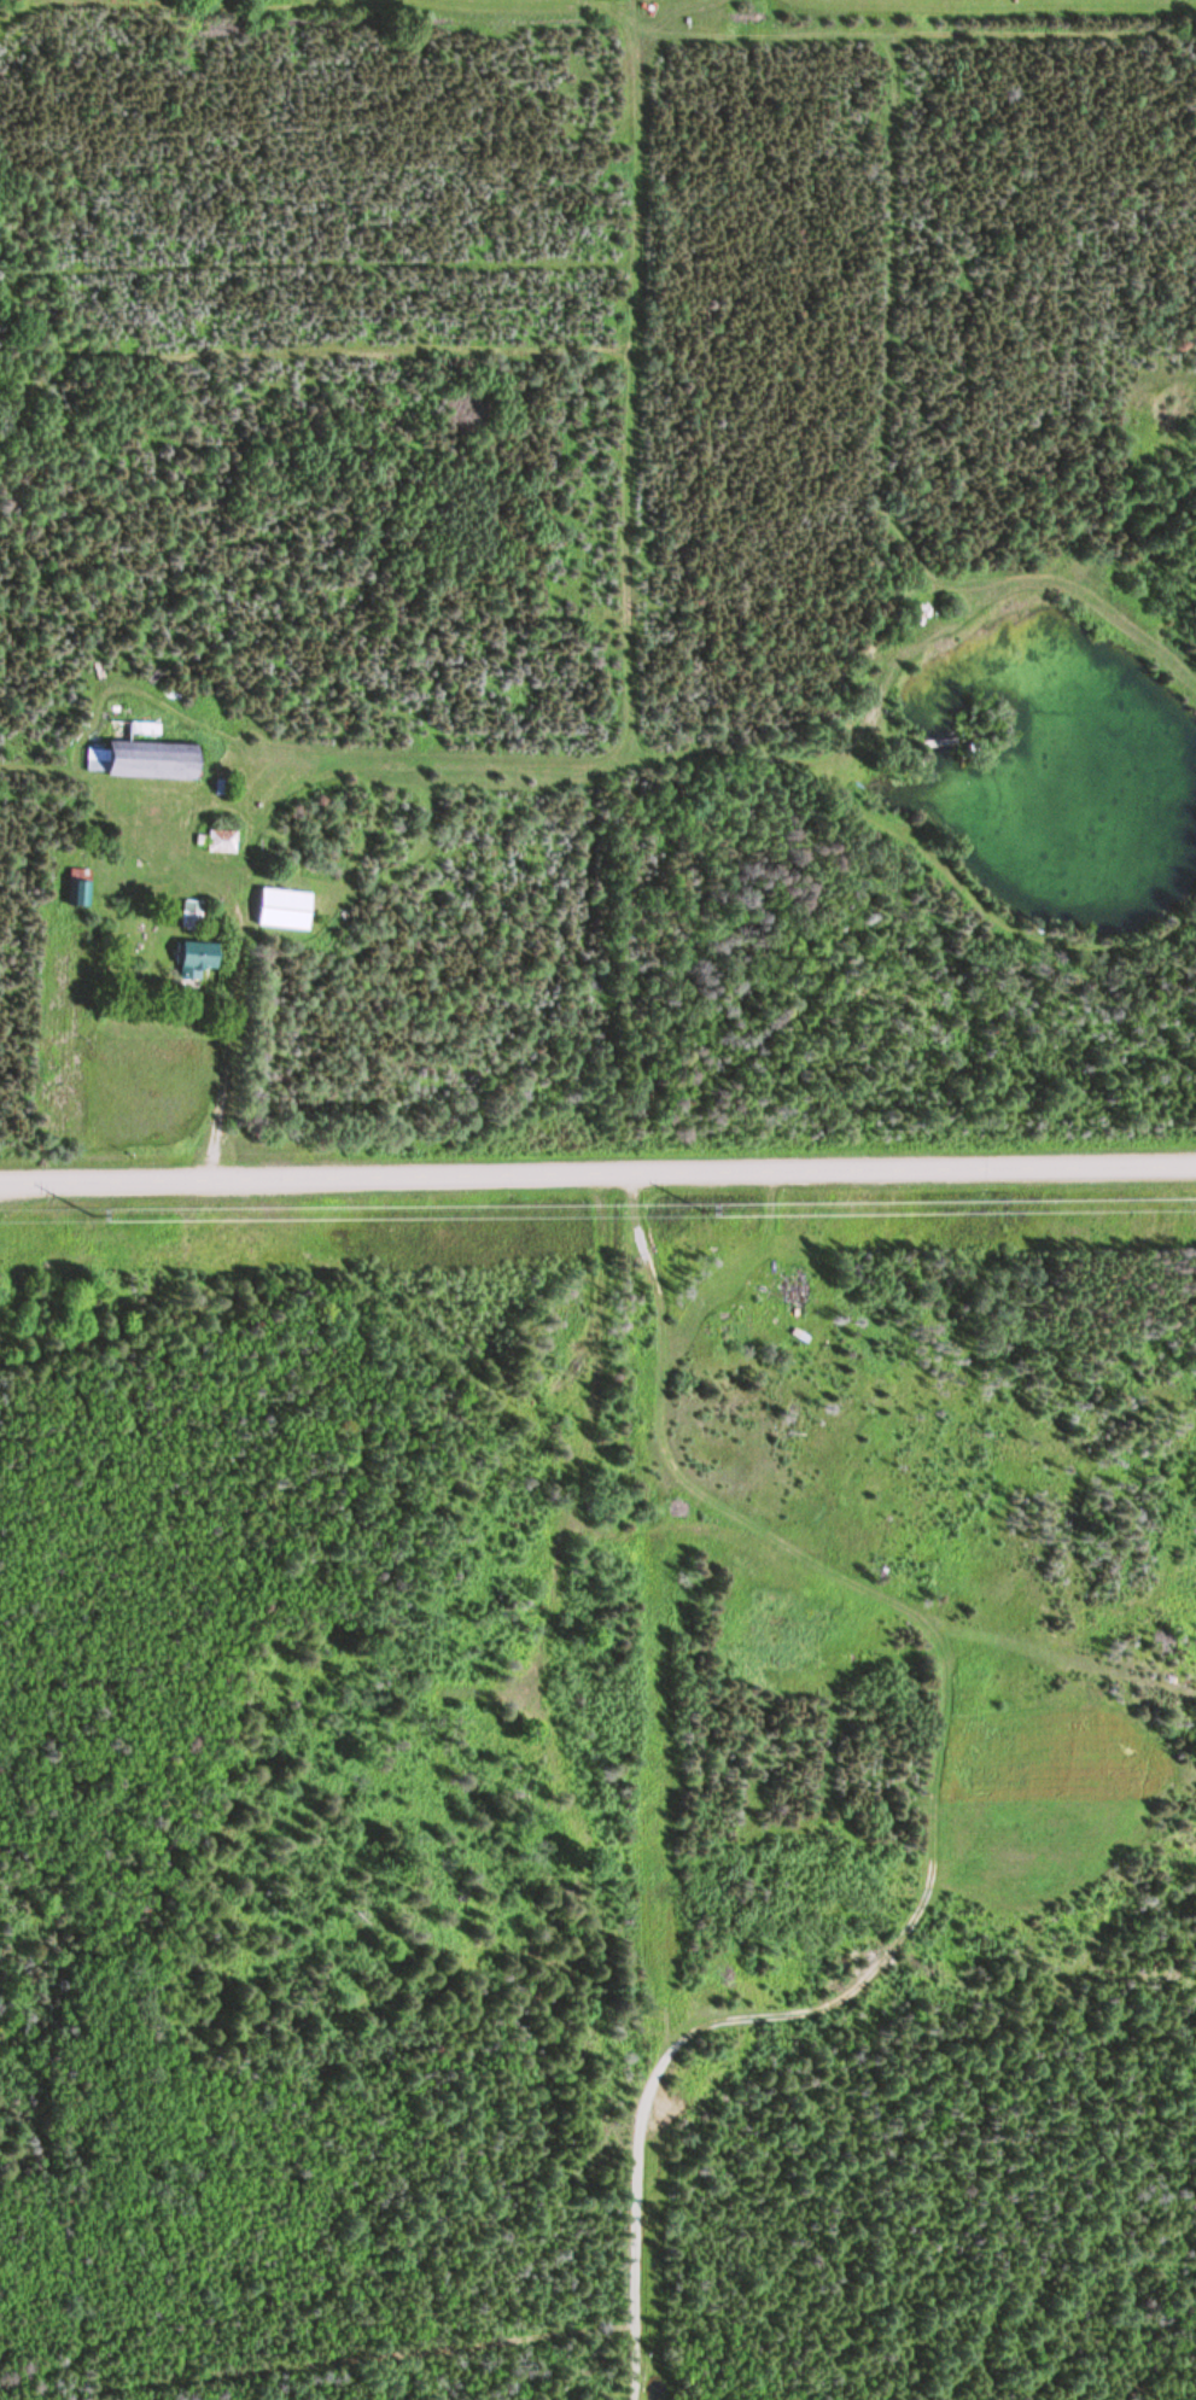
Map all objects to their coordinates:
building: (141, 753)
building: (80, 894)
building: (284, 910)
building: (196, 959)
road: (597, 1173)
building: (792, 1291)
road: (957, 1781)

